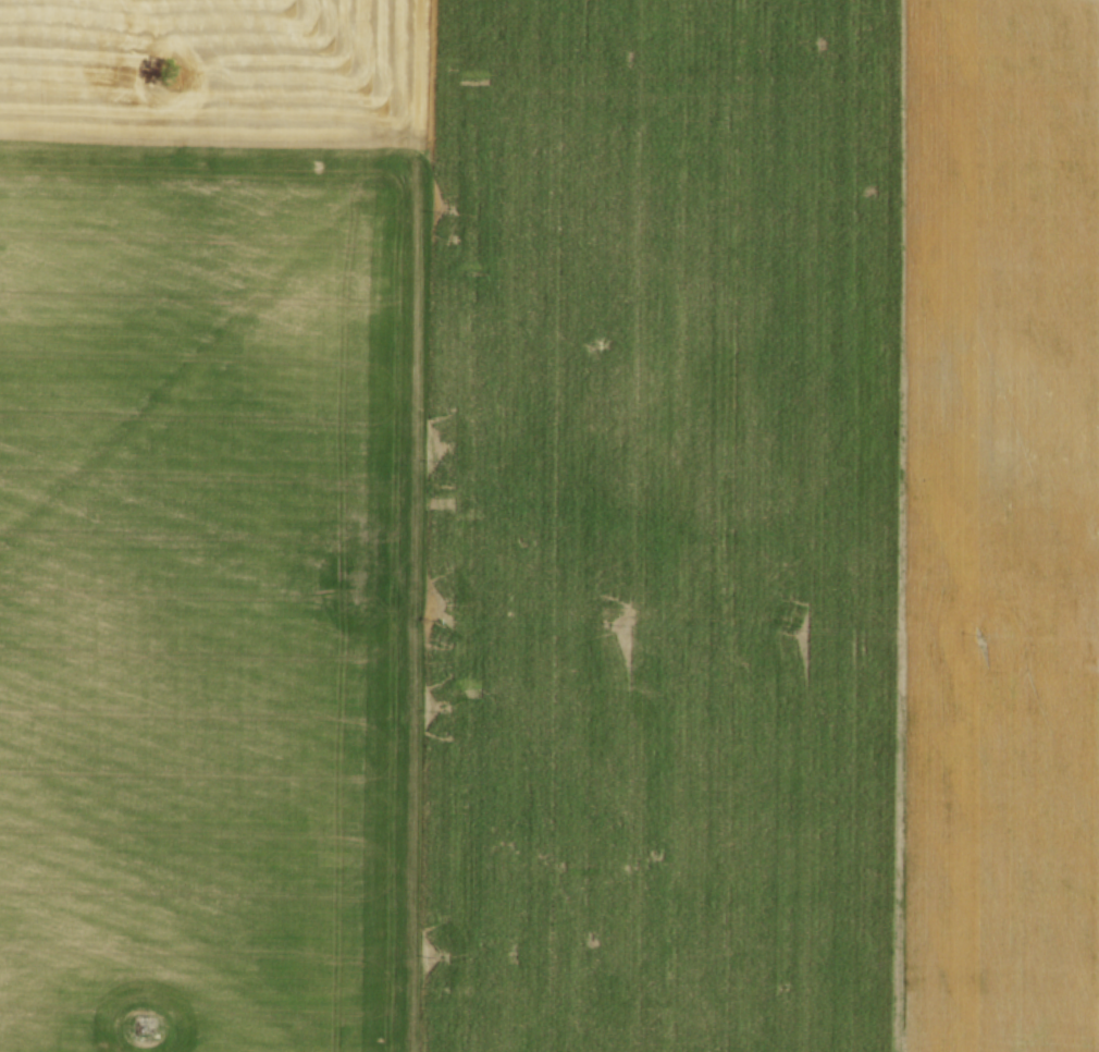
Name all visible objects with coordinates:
crop: (549, 526)

